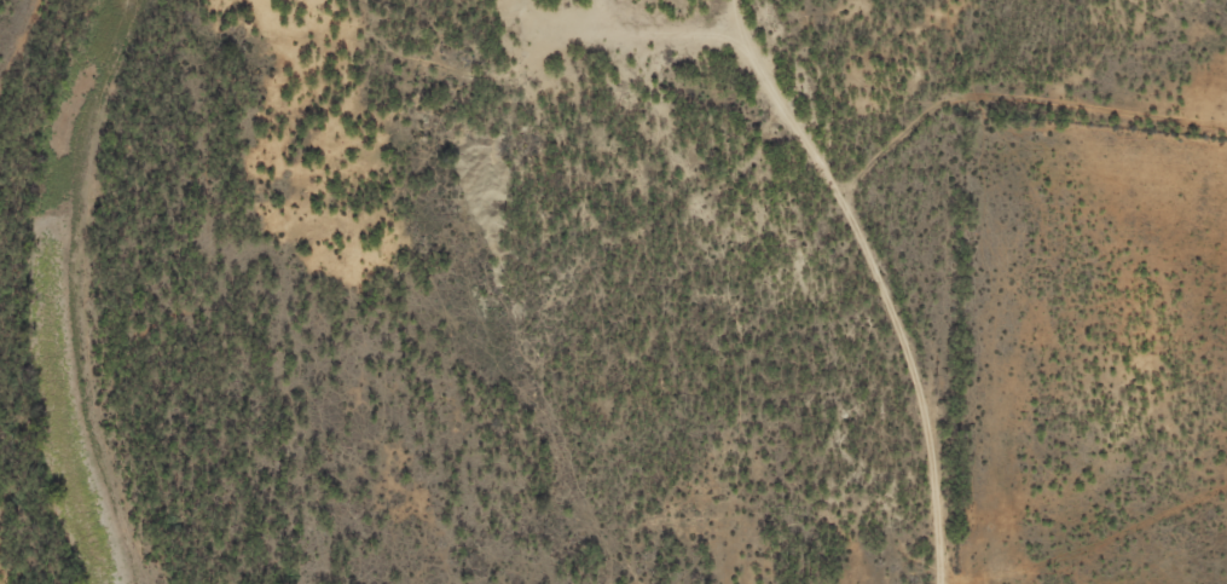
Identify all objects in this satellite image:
road: (994, 94)

